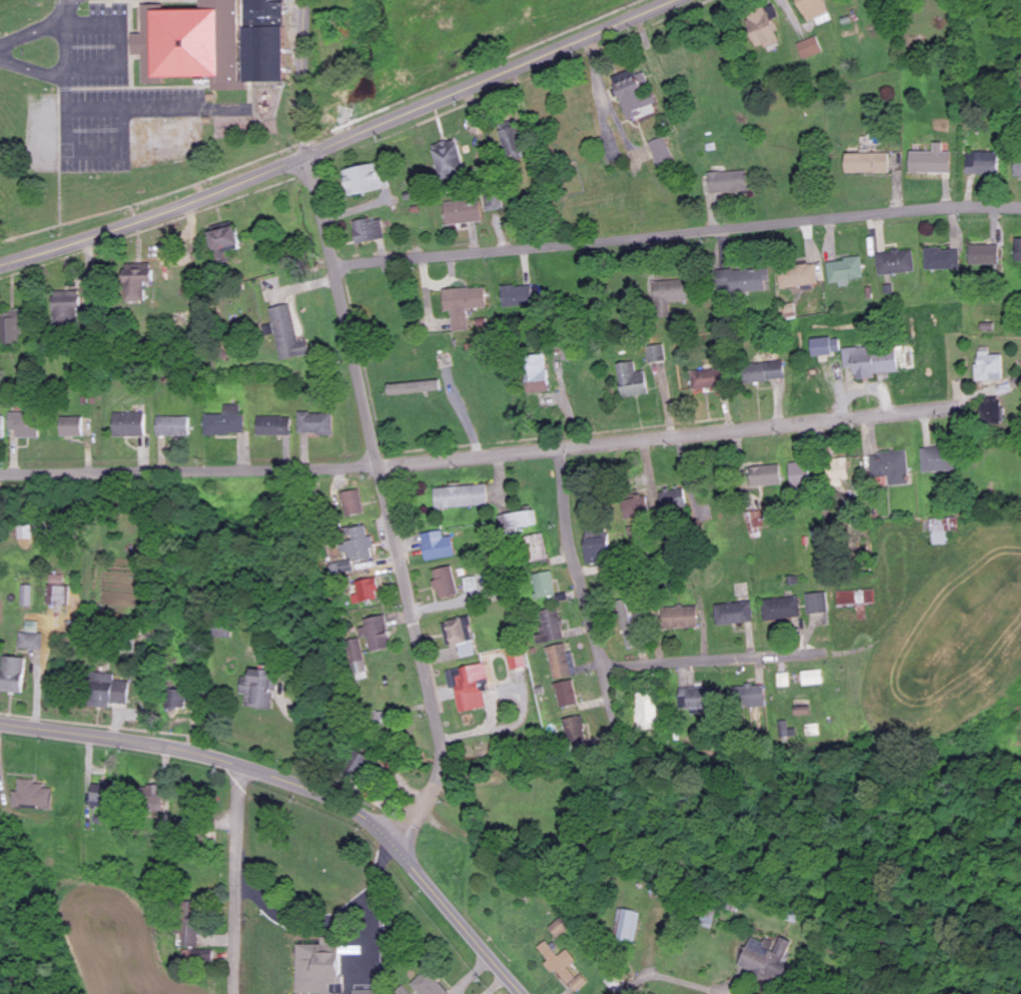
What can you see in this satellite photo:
building: (813, 9)
building: (266, 15)
building: (764, 26)
building: (193, 44)
building: (810, 48)
building: (268, 56)
road: (305, 77)
building: (634, 92)
building: (511, 140)
road: (343, 141)
building: (661, 152)
building: (447, 159)
building: (931, 161)
building: (866, 163)
building: (983, 164)
building: (1017, 168)
building: (364, 178)
building: (728, 182)
building: (493, 205)
building: (462, 212)
building: (368, 231)
road: (677, 233)
building: (222, 239)
building: (1018, 250)
building: (985, 255)
building: (943, 259)
building: (896, 262)
building: (845, 271)
building: (798, 276)
building: (745, 279)
building: (136, 281)
building: (670, 293)
building: (517, 296)
building: (463, 305)
building: (65, 307)
building: (10, 327)
building: (288, 333)
building: (826, 346)
building: (658, 354)
building: (870, 362)
building: (989, 366)
building: (766, 372)
building: (537, 374)
building: (709, 379)
building: (634, 381)
building: (415, 388)
building: (994, 409)
building: (226, 422)
building: (316, 424)
building: (24, 425)
building: (129, 425)
building: (274, 426)
building: (71, 427)
building: (173, 427)
building: (3, 428)
road: (480, 457)
building: (939, 460)
building: (891, 467)
building: (837, 472)
building: (800, 475)
building: (766, 476)
building: (461, 497)
building: (674, 501)
building: (353, 502)
road: (388, 503)
building: (632, 509)
building: (518, 521)
building: (361, 544)
building: (598, 544)
building: (438, 546)
building: (537, 548)
building: (446, 582)
building: (545, 585)
building: (368, 590)
building: (59, 591)
road: (582, 593)
building: (857, 598)
building: (819, 603)
building: (783, 608)
building: (735, 614)
building: (680, 618)
building: (552, 625)
building: (377, 634)
building: (460, 636)
building: (32, 637)
road: (719, 658)
building: (521, 661)
building: (563, 662)
building: (13, 675)
building: (813, 678)
building: (472, 689)
building: (108, 692)
building: (567, 694)
building: (748, 695)
building: (702, 698)
building: (577, 730)
road: (304, 784)
building: (32, 795)
building: (101, 796)
road: (509, 816)
road: (233, 879)
building: (628, 925)
building: (188, 934)
building: (197, 957)
building: (770, 960)
building: (564, 967)
building: (318, 969)
building: (431, 987)

